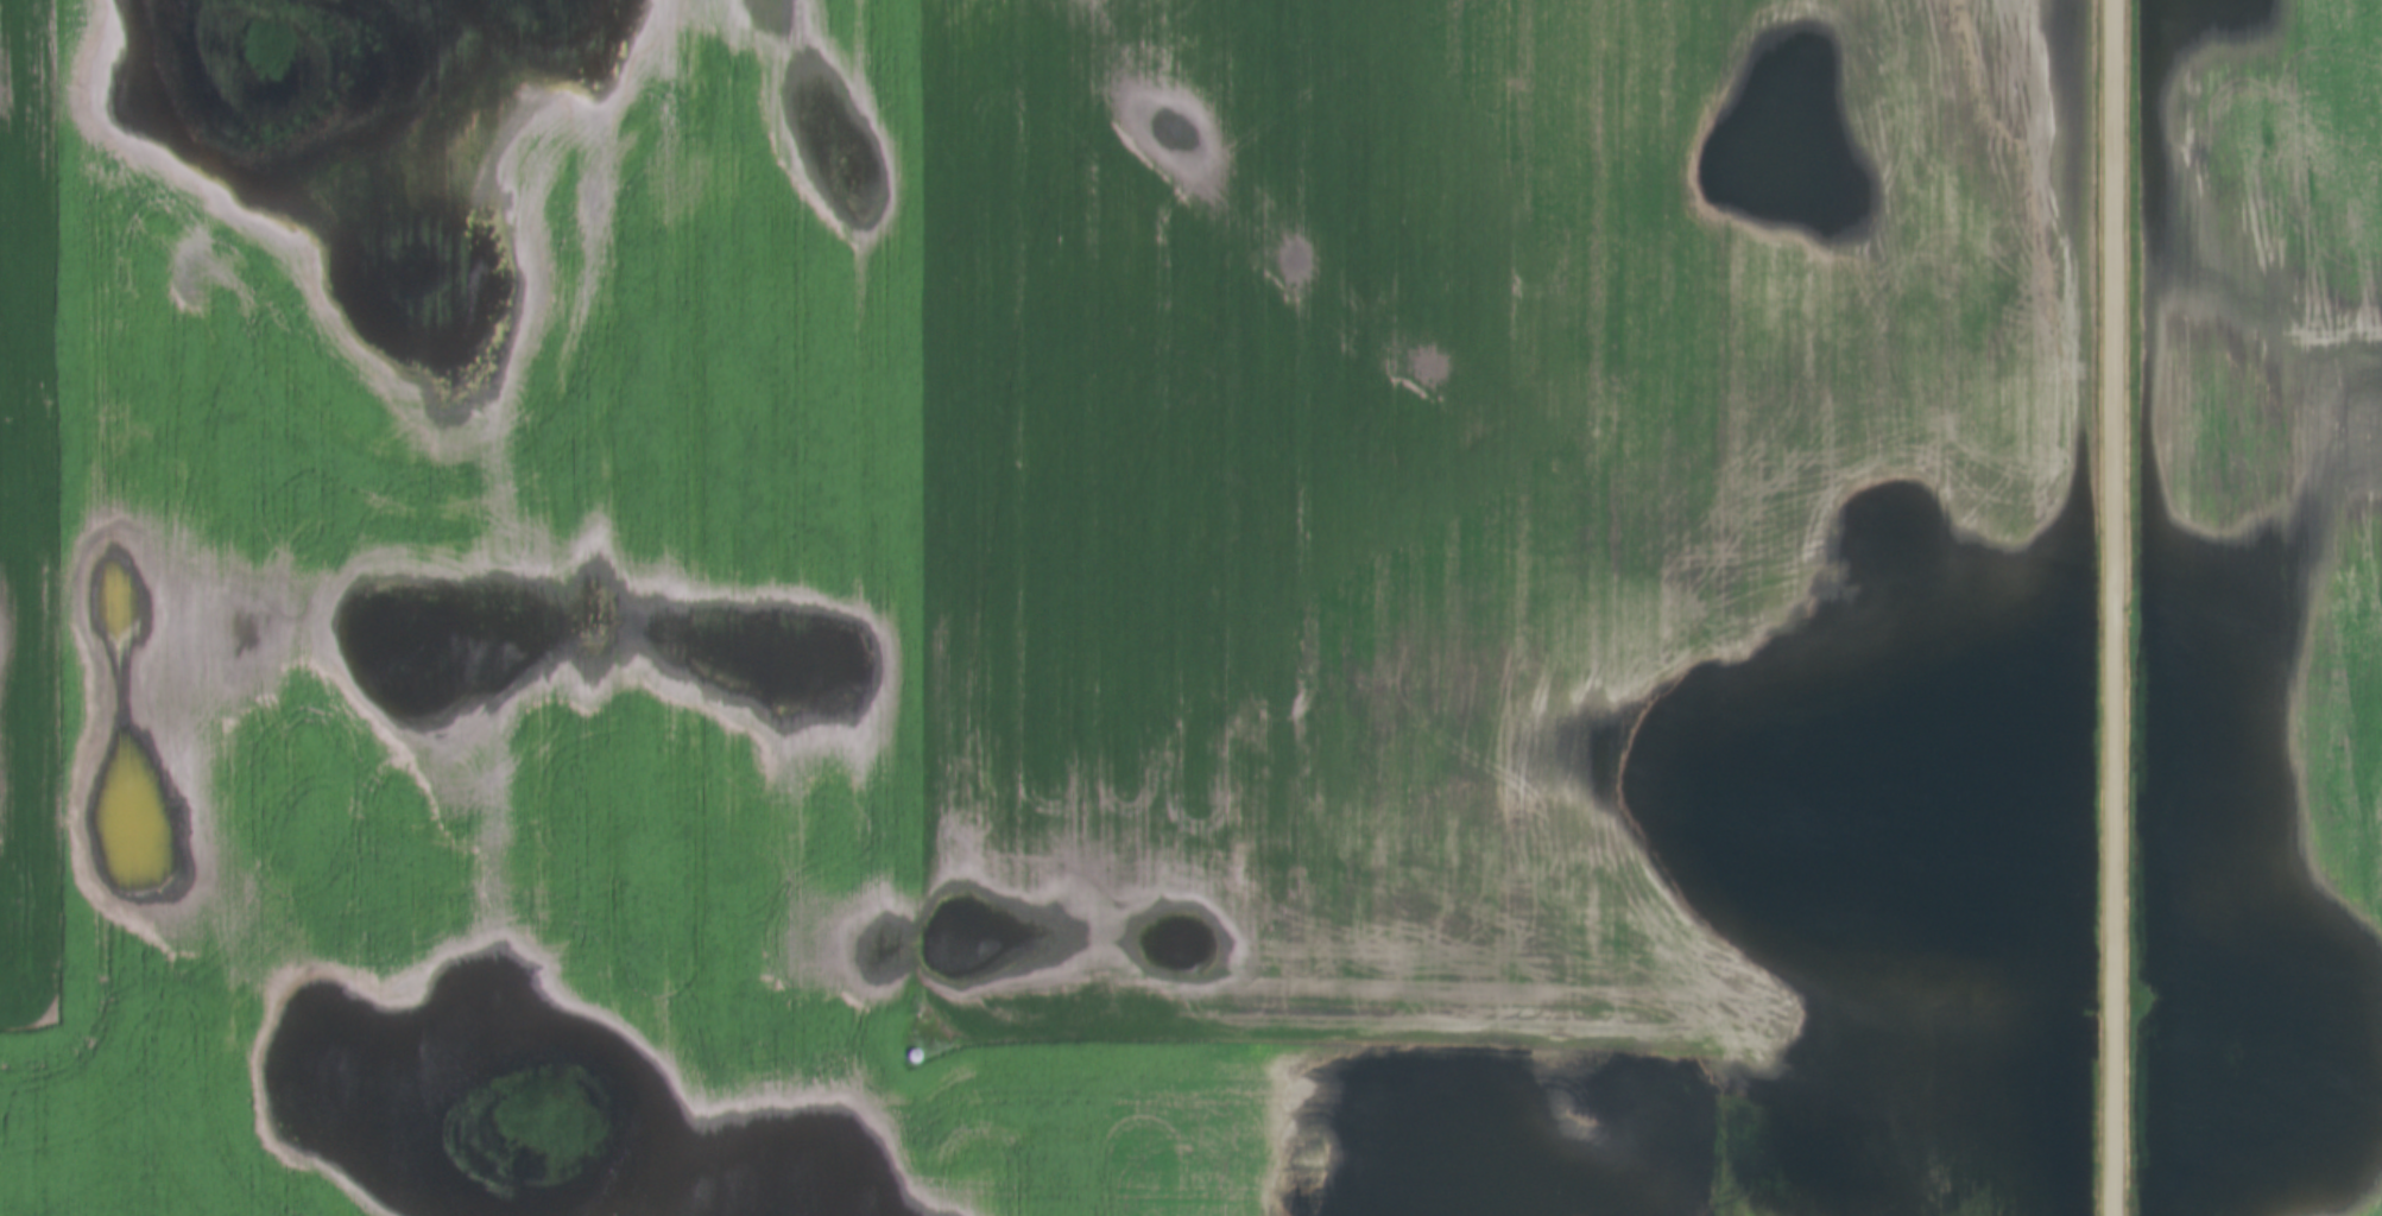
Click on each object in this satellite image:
road: (2112, 608)
road: (1563, 1031)

